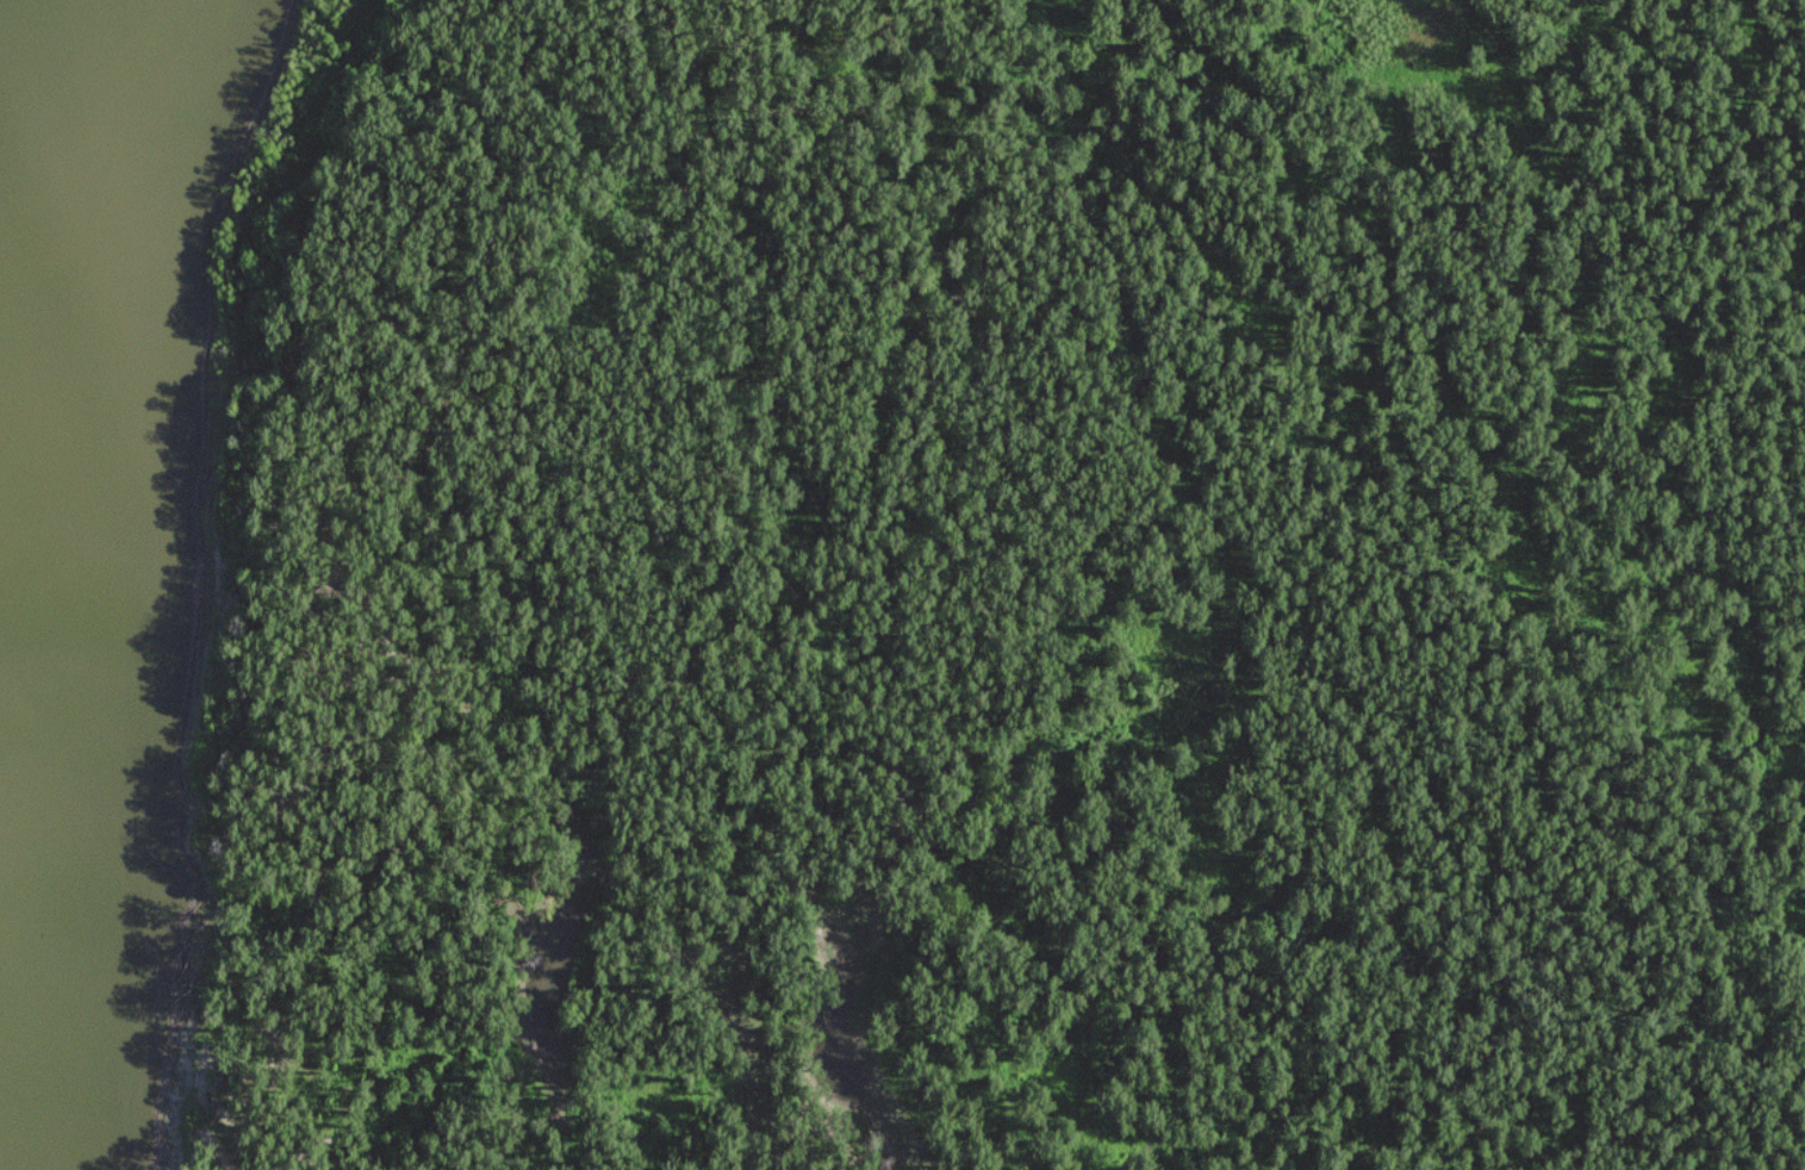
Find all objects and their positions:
river: (119, 295)

